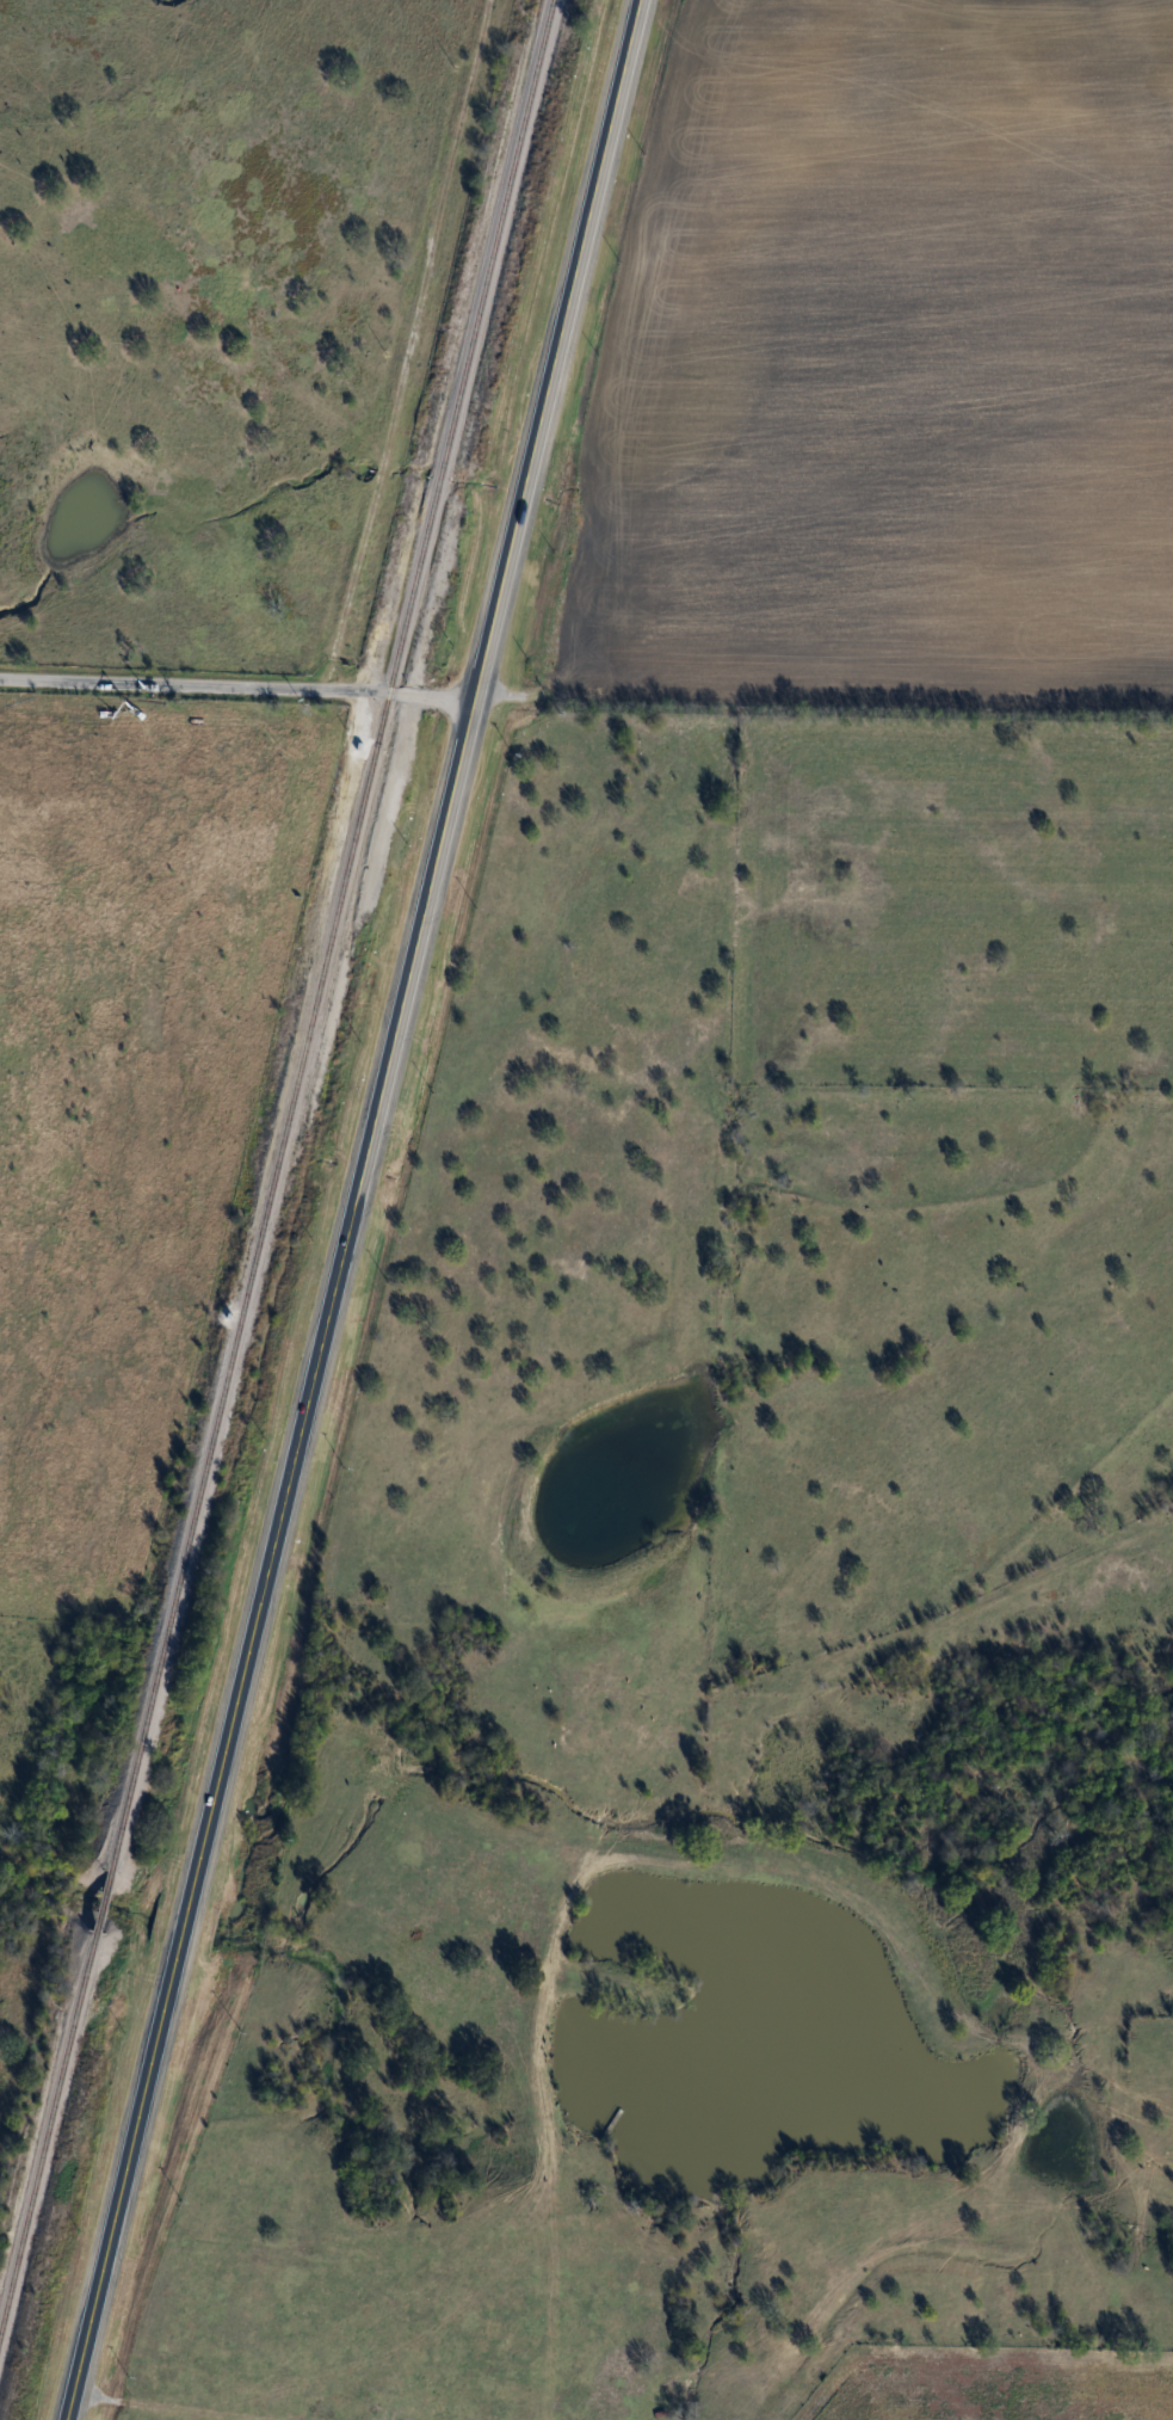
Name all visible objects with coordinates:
road: (237, 688)
railway: (333, 934)
road: (354, 1209)
railway: (107, 1901)
railway: (49, 2142)

